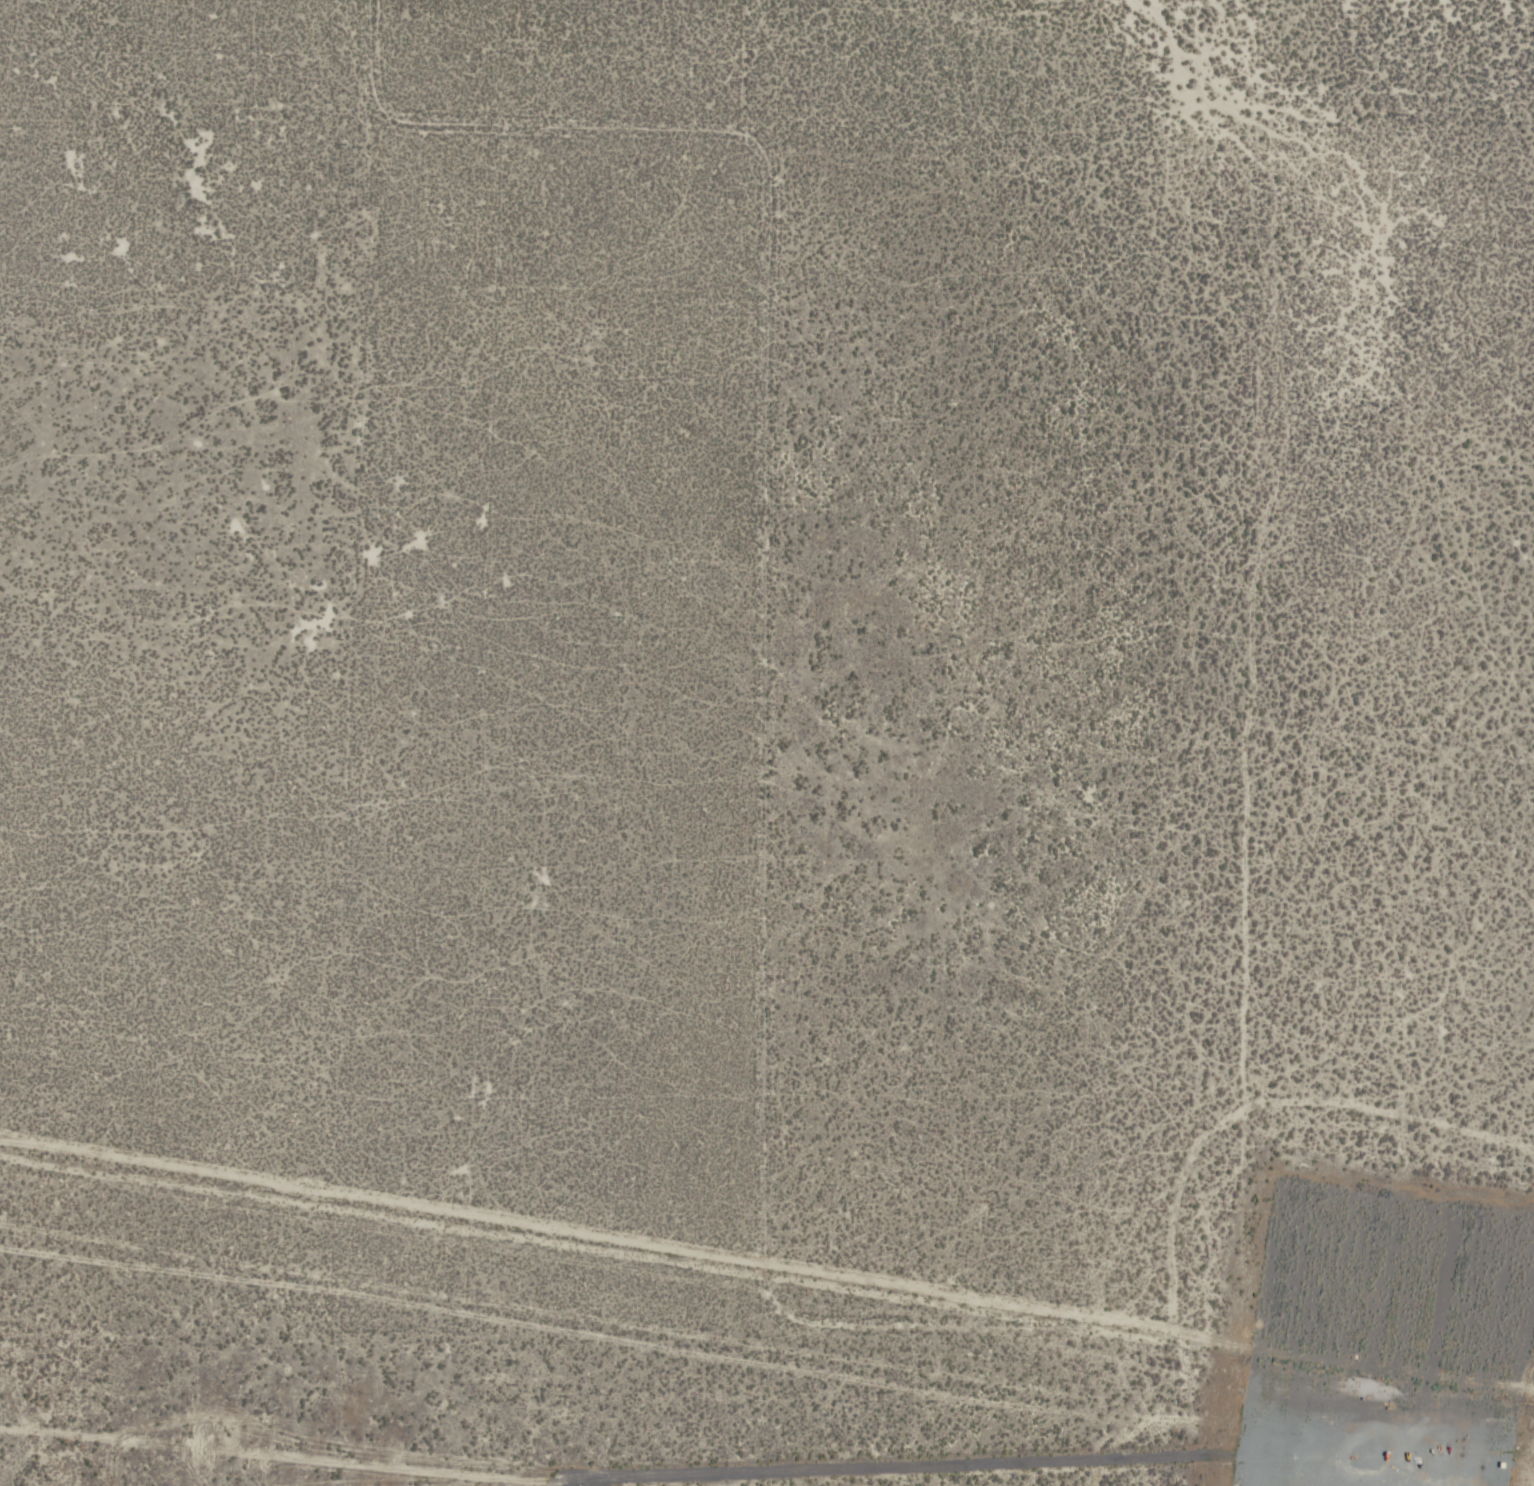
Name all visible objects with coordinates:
airport: (767, 743)
road: (767, 1265)
road: (1300, 1443)

